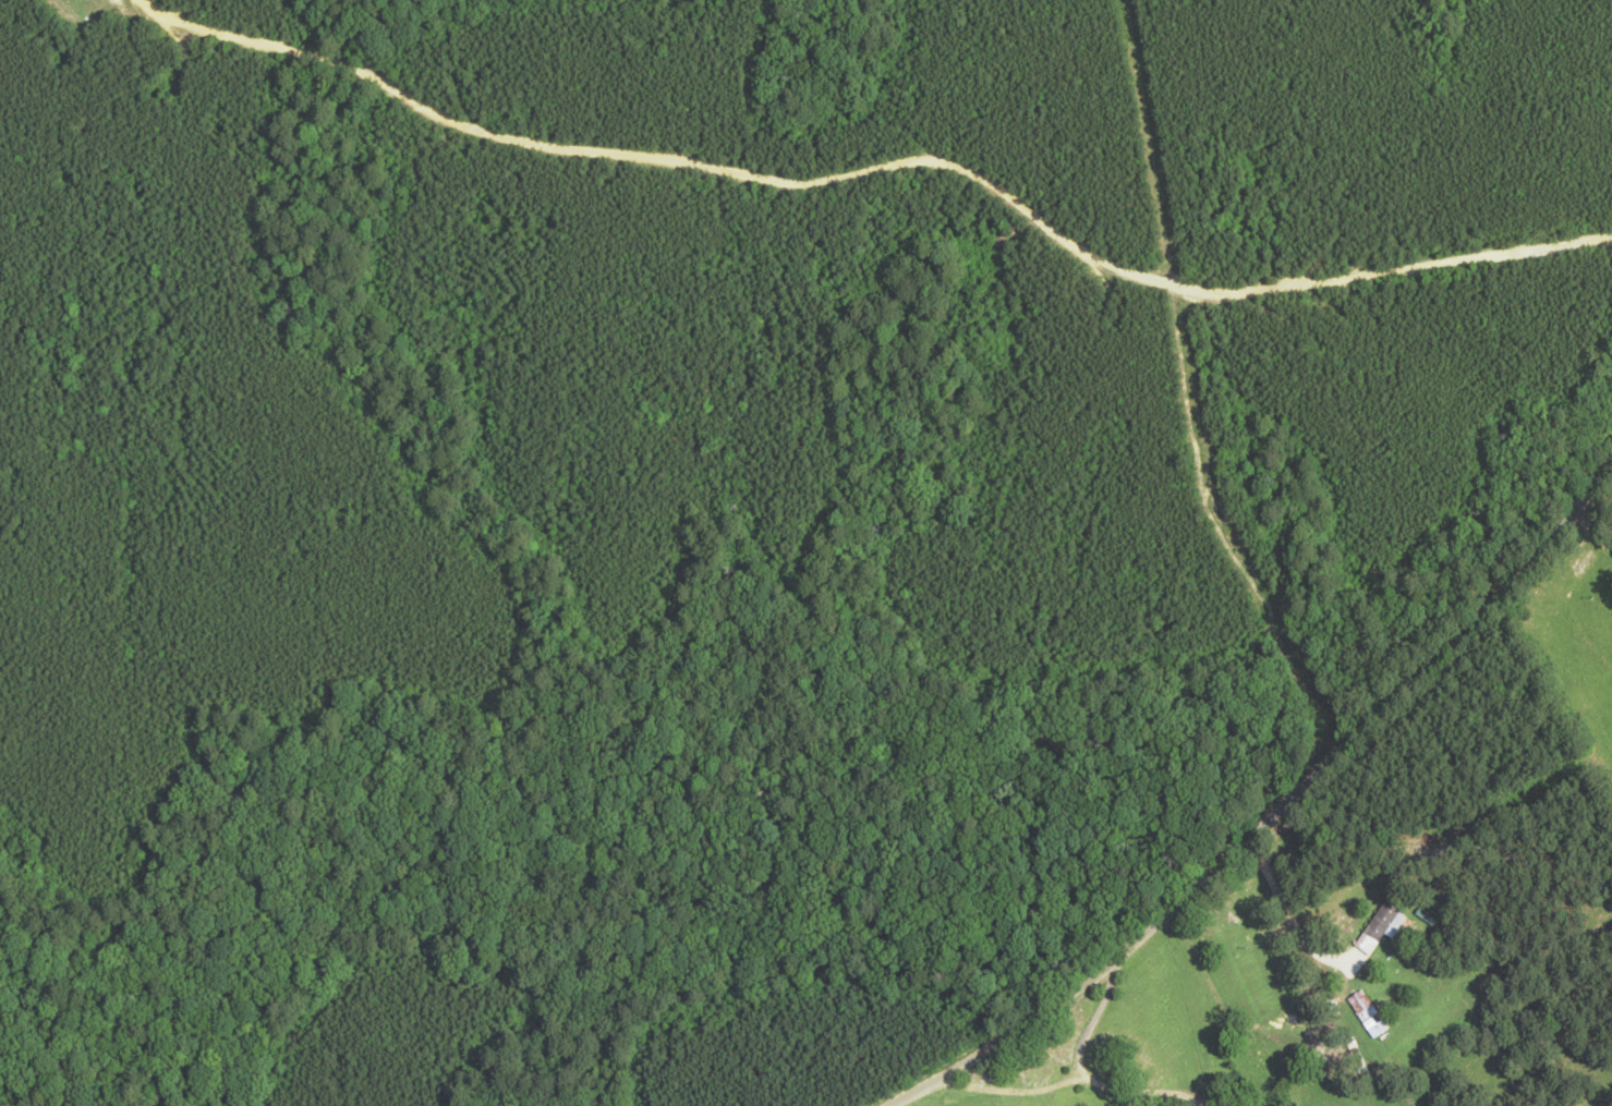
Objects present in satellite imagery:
building: (1586, 569)
road: (1384, 713)
road: (1452, 829)
building: (1383, 929)
building: (1365, 1012)
road: (1181, 1025)
road: (1006, 1026)

